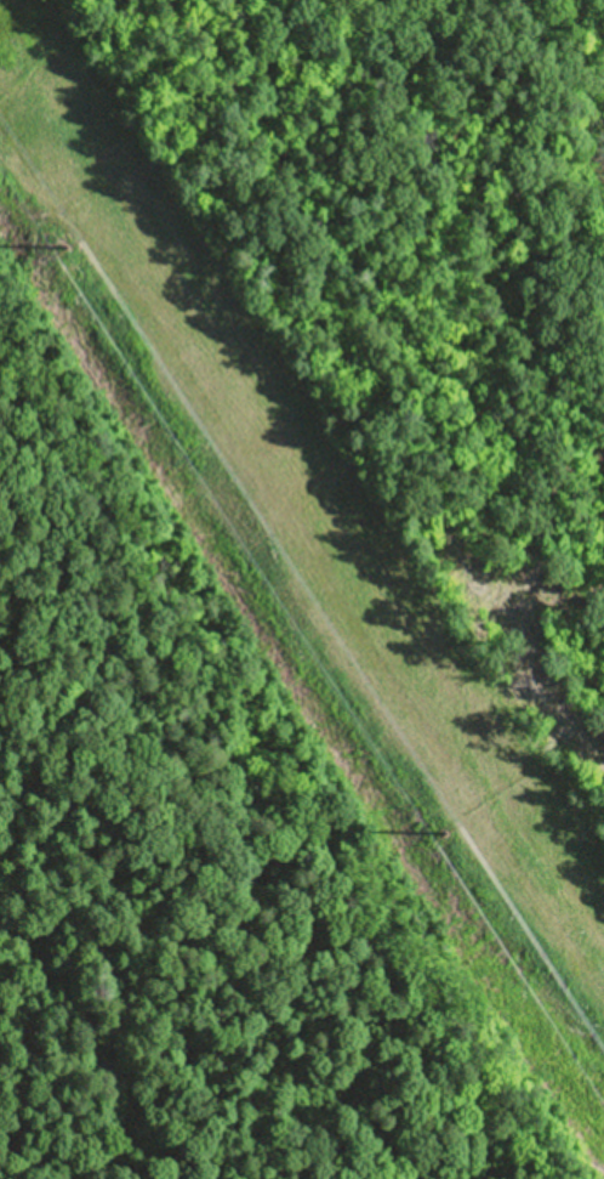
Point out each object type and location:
power tower: (73, 244)
power tower: (440, 831)

